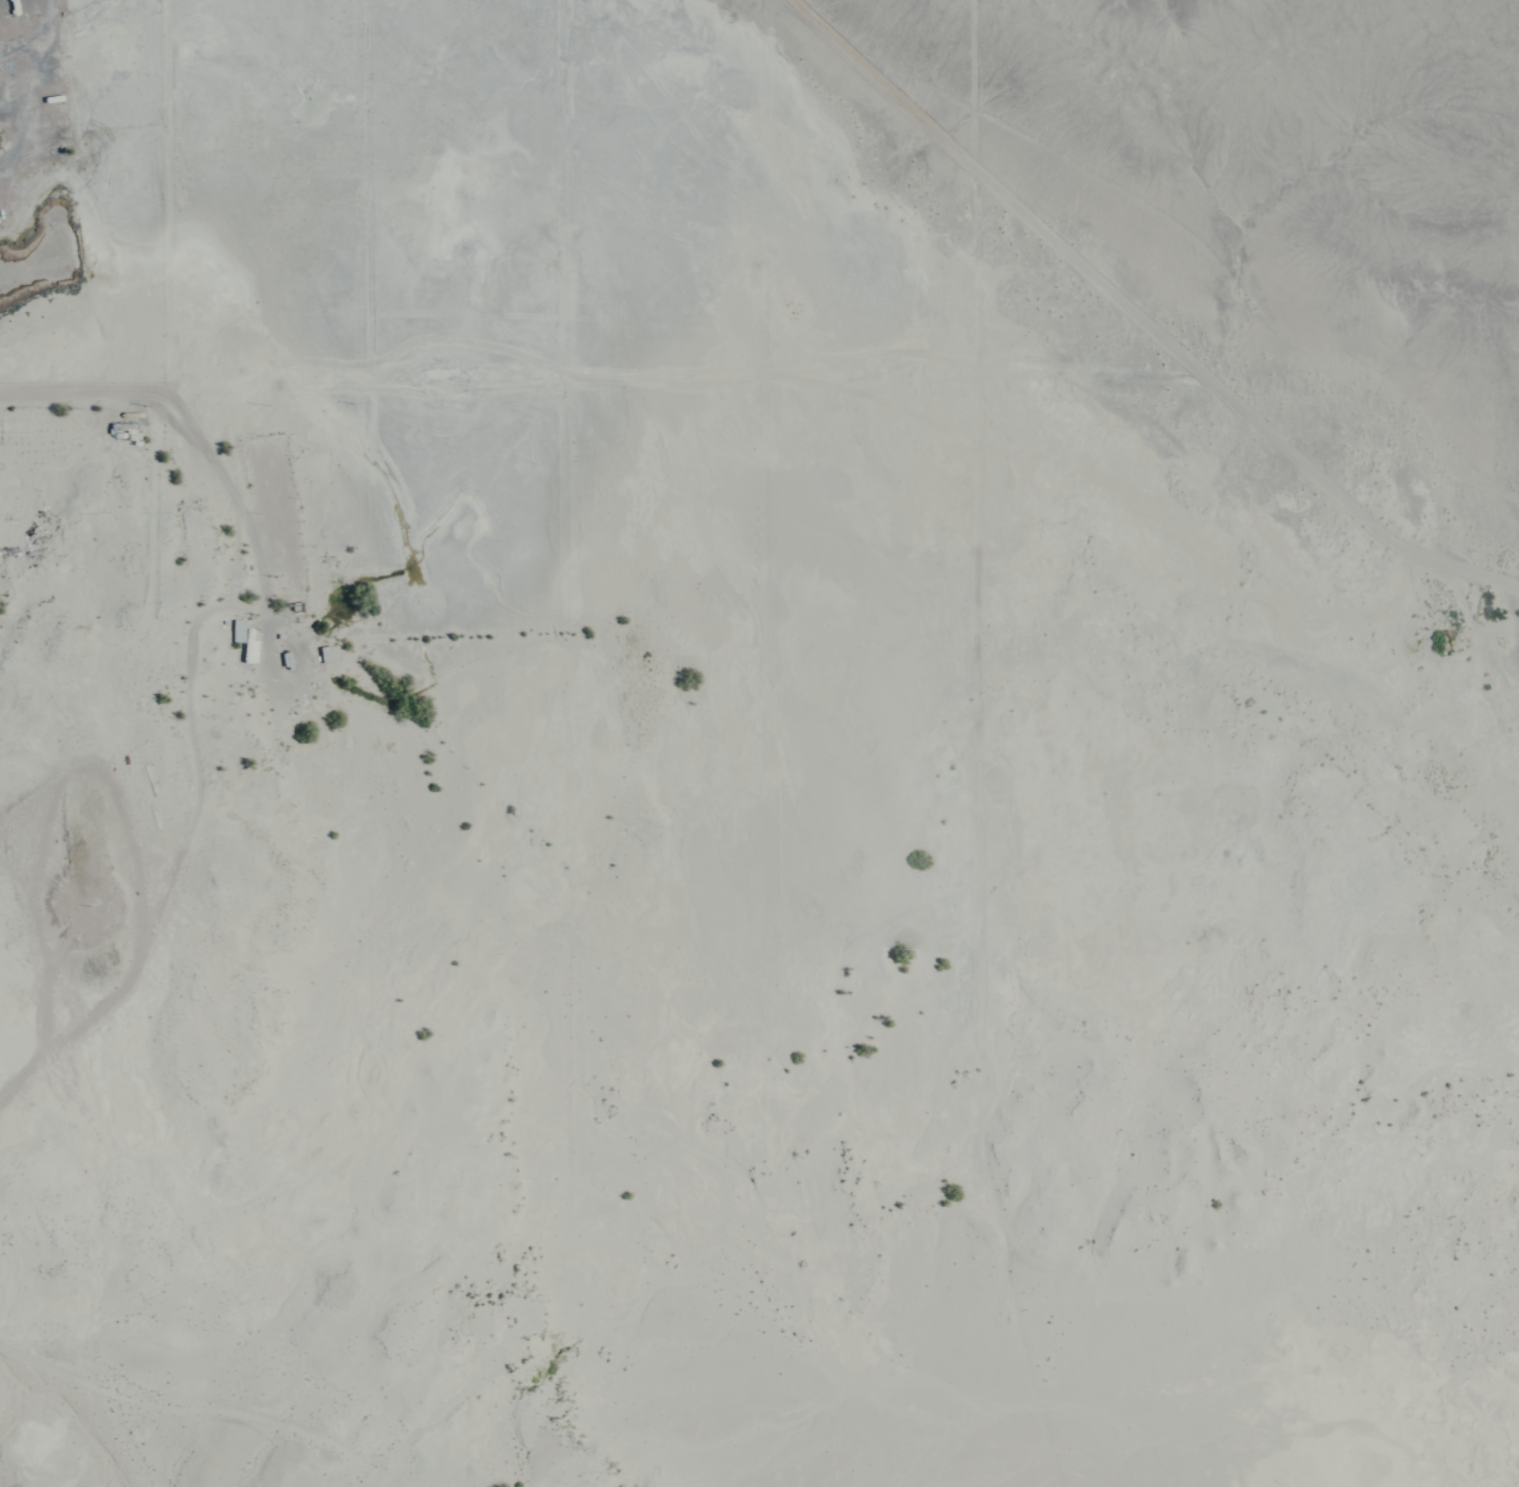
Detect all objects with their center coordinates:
road: (37, 37)
road: (1138, 320)
road: (546, 362)
road: (859, 393)
building: (120, 430)
road: (234, 486)
building: (245, 639)
road: (151, 924)
road: (166, 1410)

